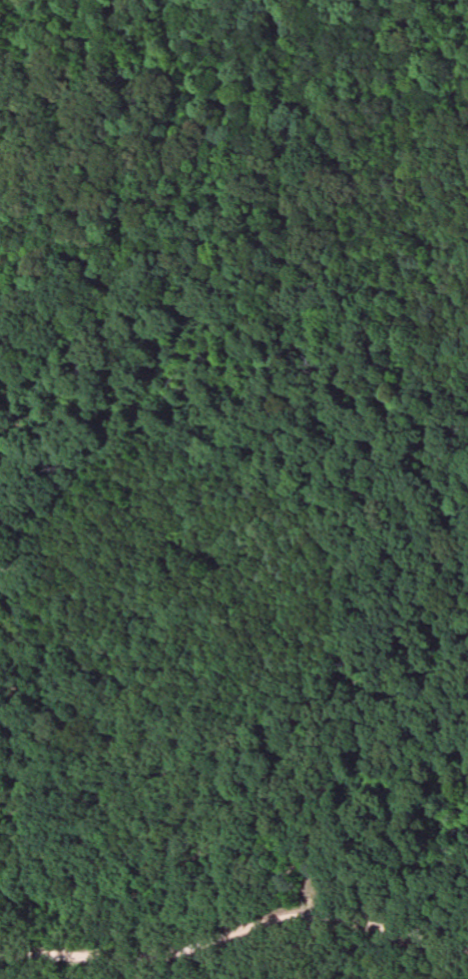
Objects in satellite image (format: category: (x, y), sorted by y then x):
road: (234, 933)

